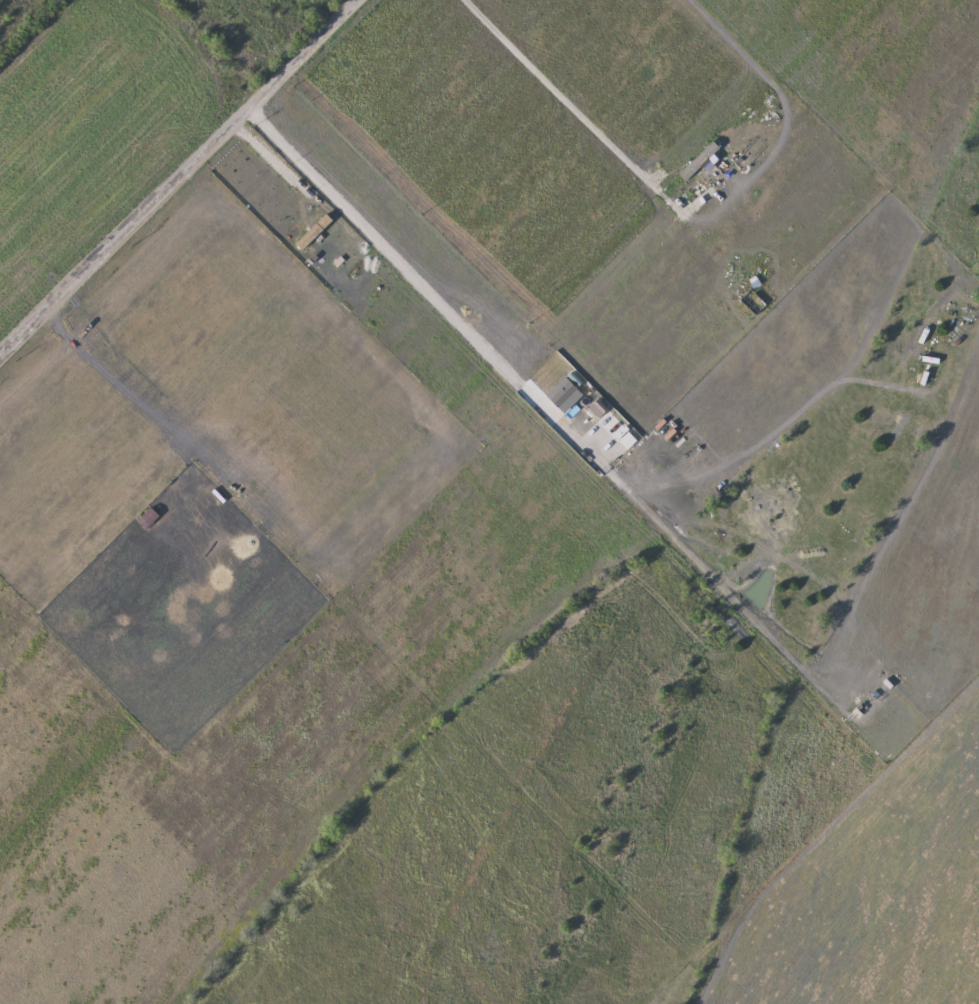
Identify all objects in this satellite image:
road: (272, 158)
road: (176, 177)
road: (426, 286)
road: (73, 920)

